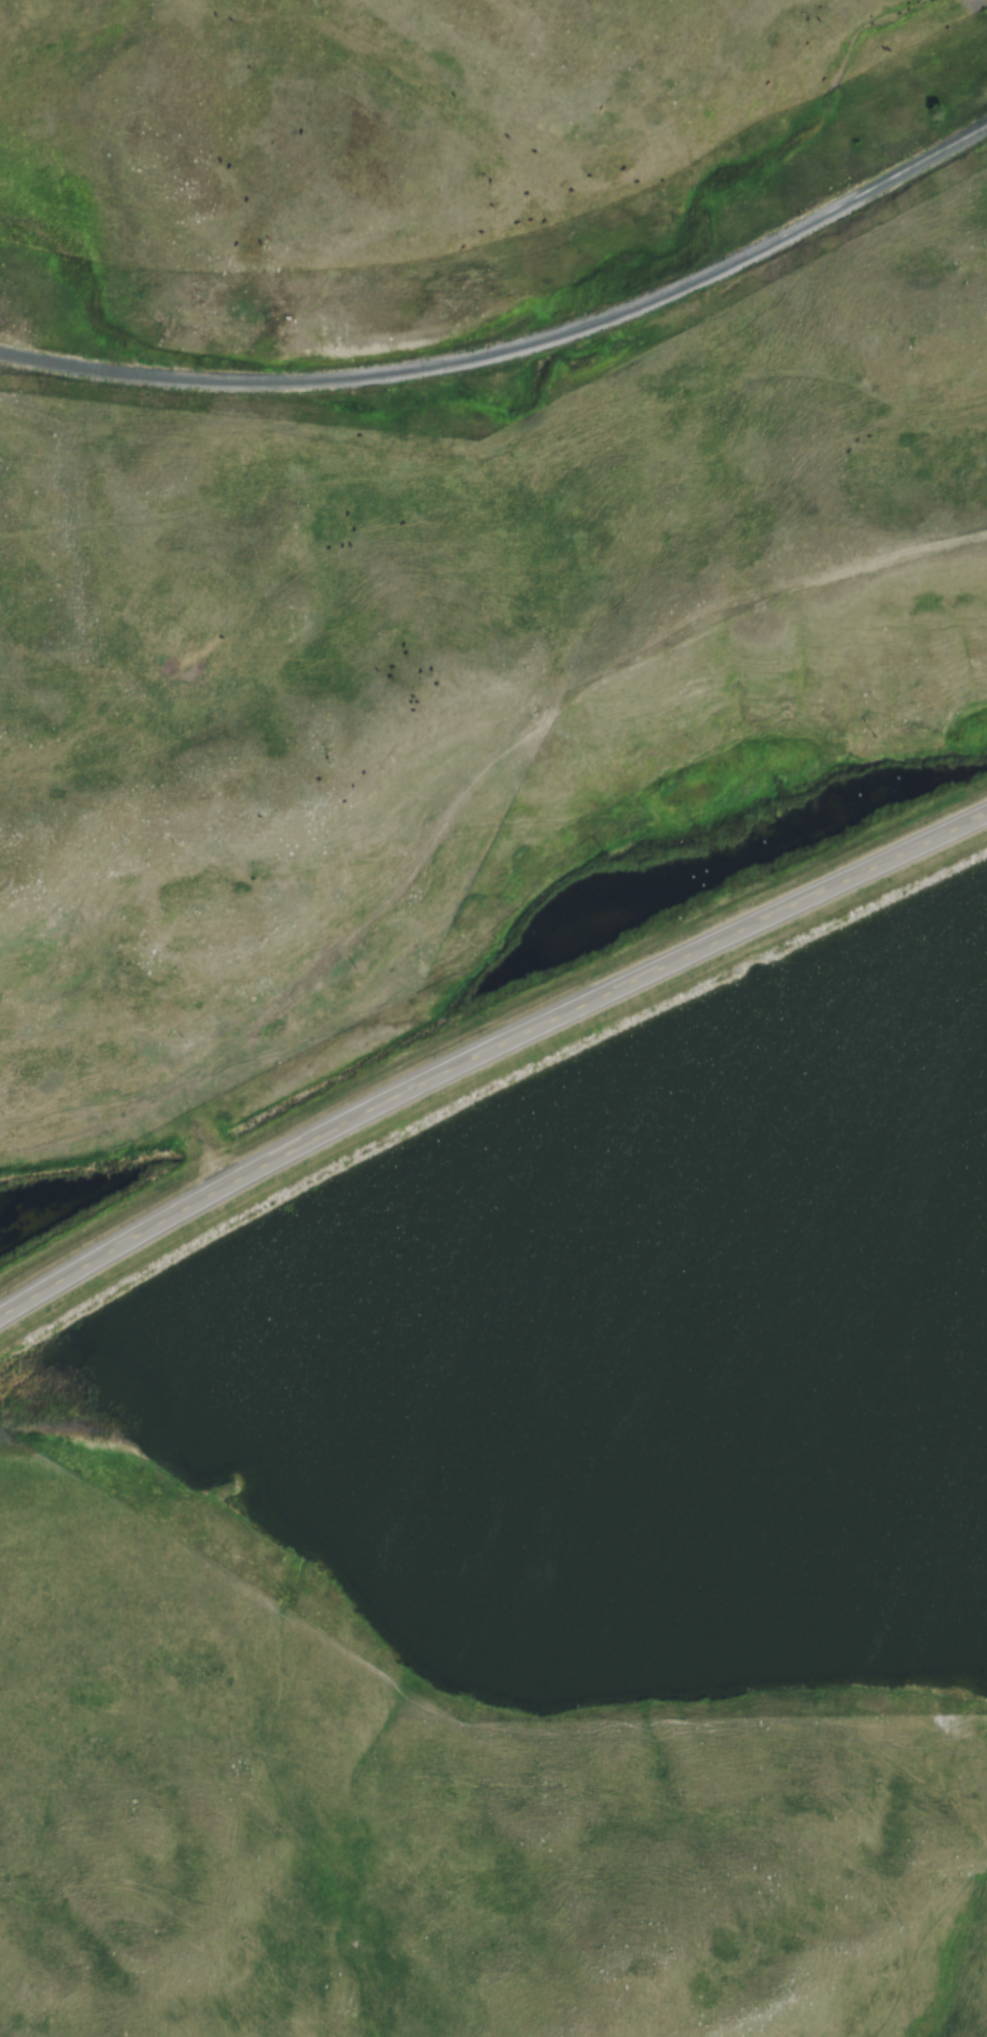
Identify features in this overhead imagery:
railway: (507, 351)
road: (487, 1060)

